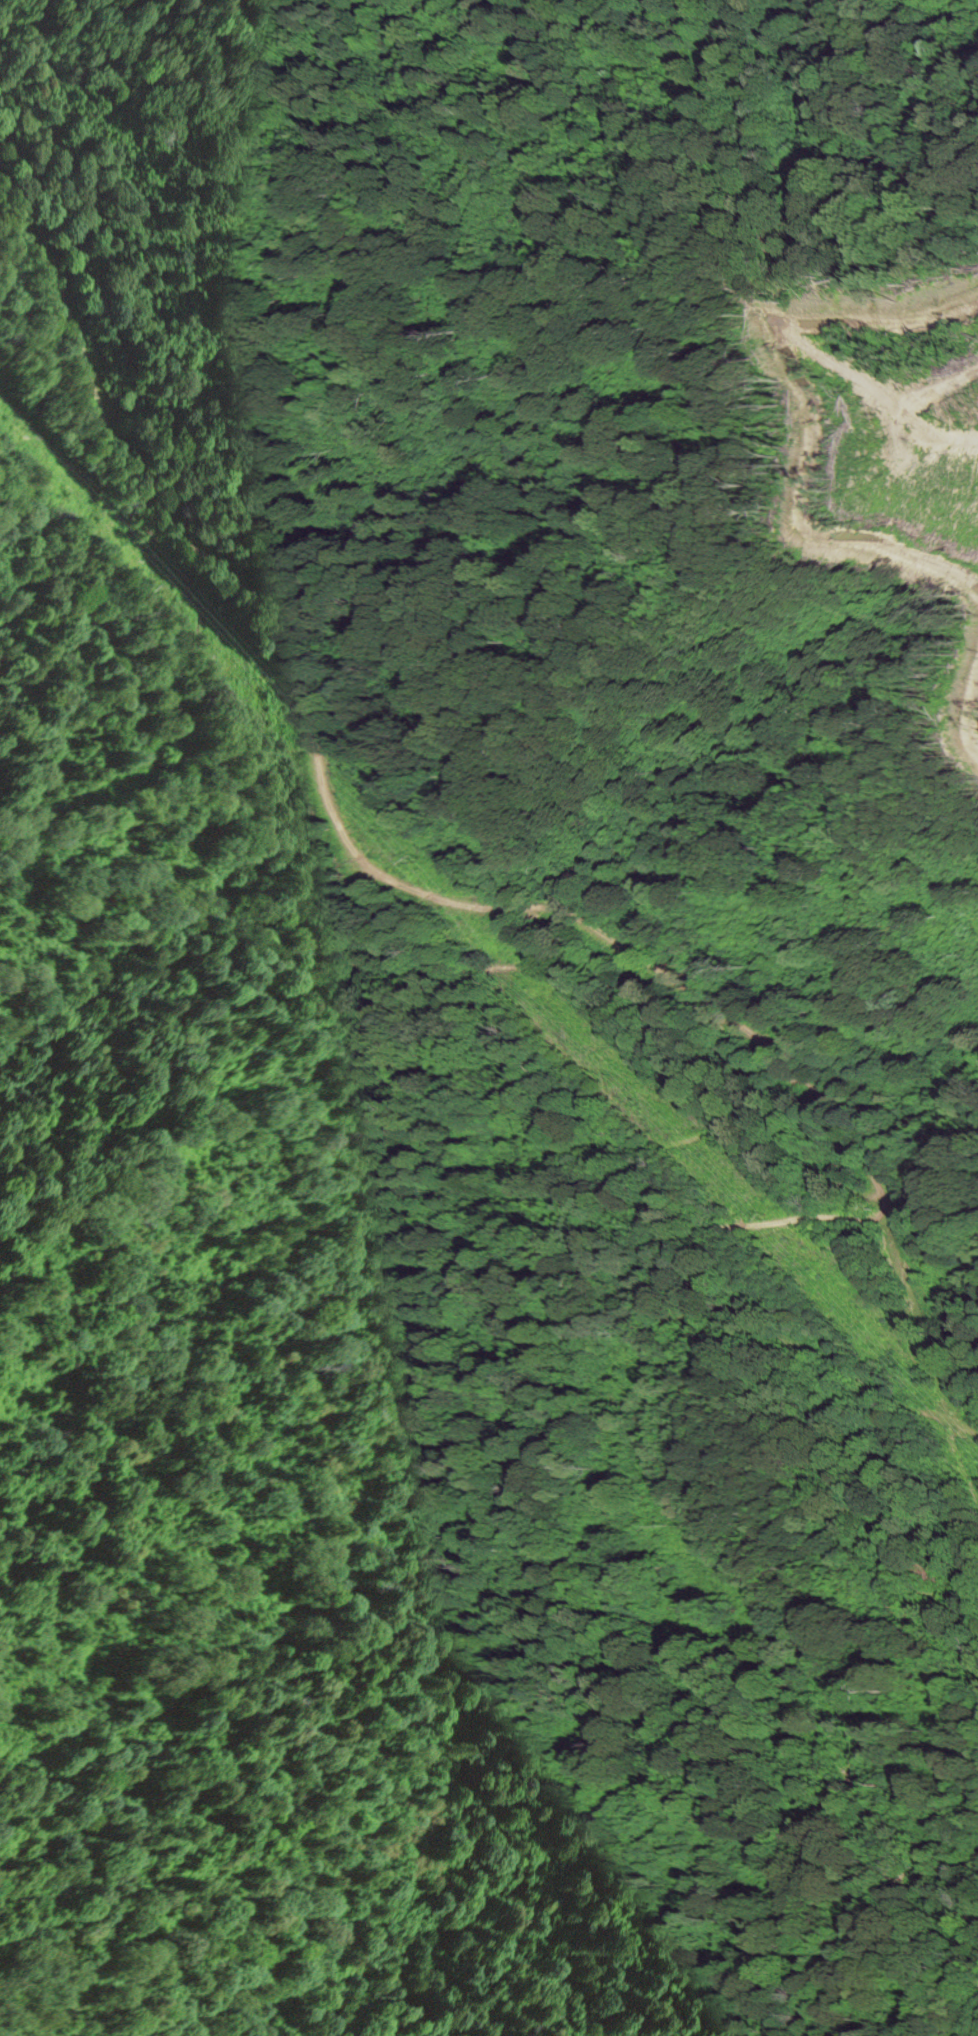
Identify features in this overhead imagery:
quarry: (892, 416)

